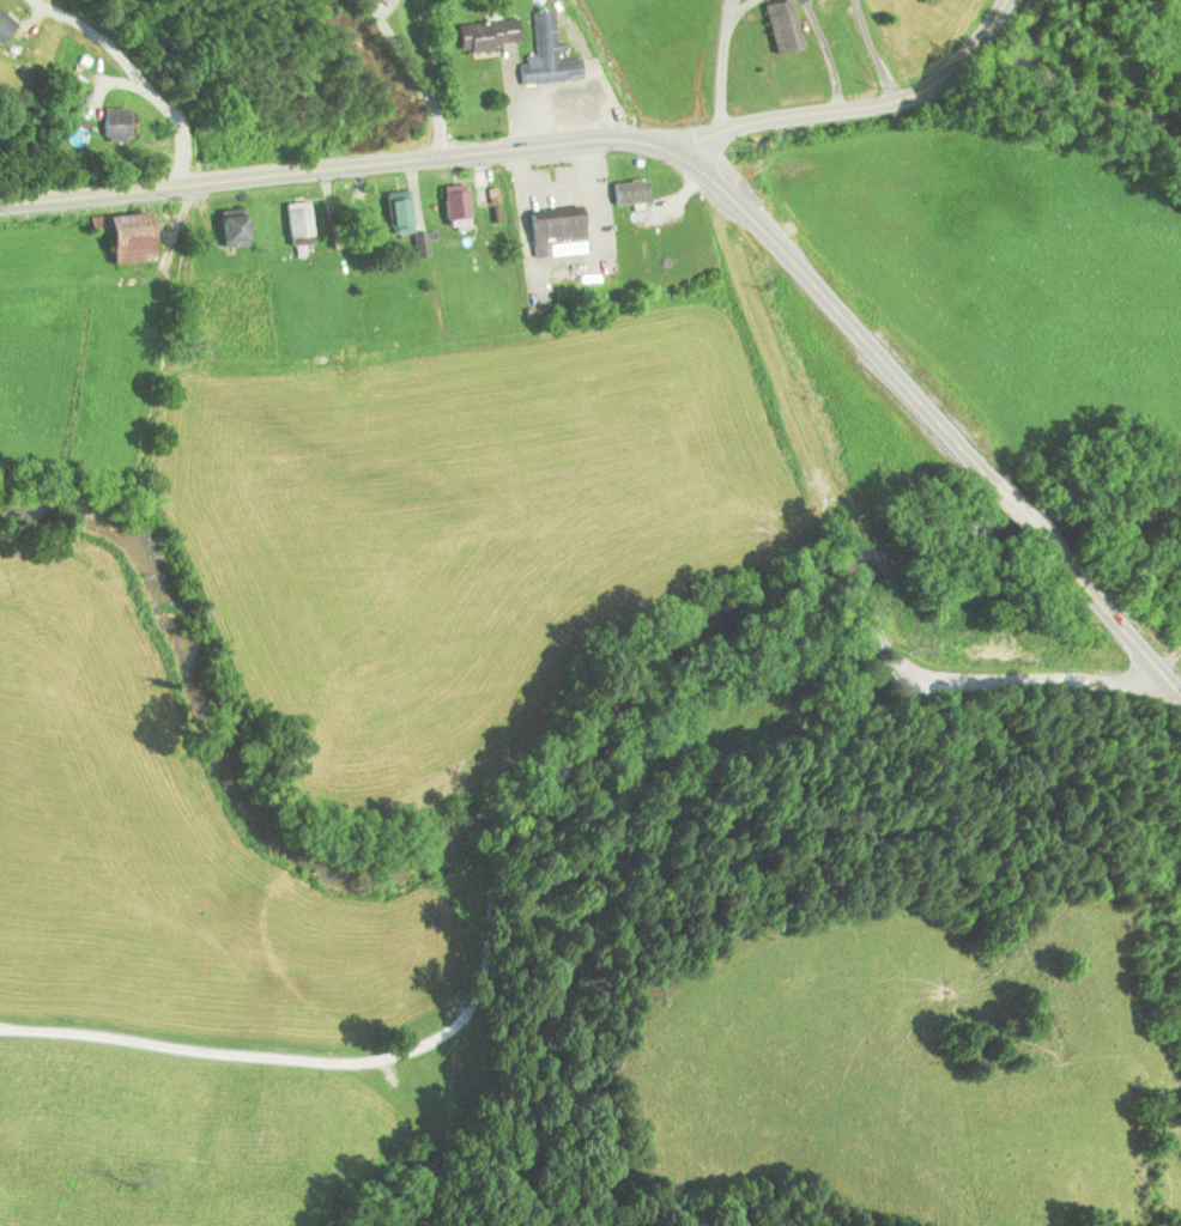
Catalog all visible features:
crop: (1176, 7)
building: (4, 26)
building: (781, 26)
building: (487, 35)
road: (428, 48)
road: (874, 51)
building: (547, 55)
road: (728, 66)
road: (137, 71)
road: (420, 72)
river: (1086, 77)
road: (859, 108)
building: (108, 125)
road: (558, 142)
building: (629, 193)
building: (456, 207)
building: (398, 210)
building: (299, 220)
building: (232, 230)
building: (551, 231)
building: (127, 237)
road: (1023, 517)
road: (1122, 627)
crop: (1179, 633)
river: (517, 779)

